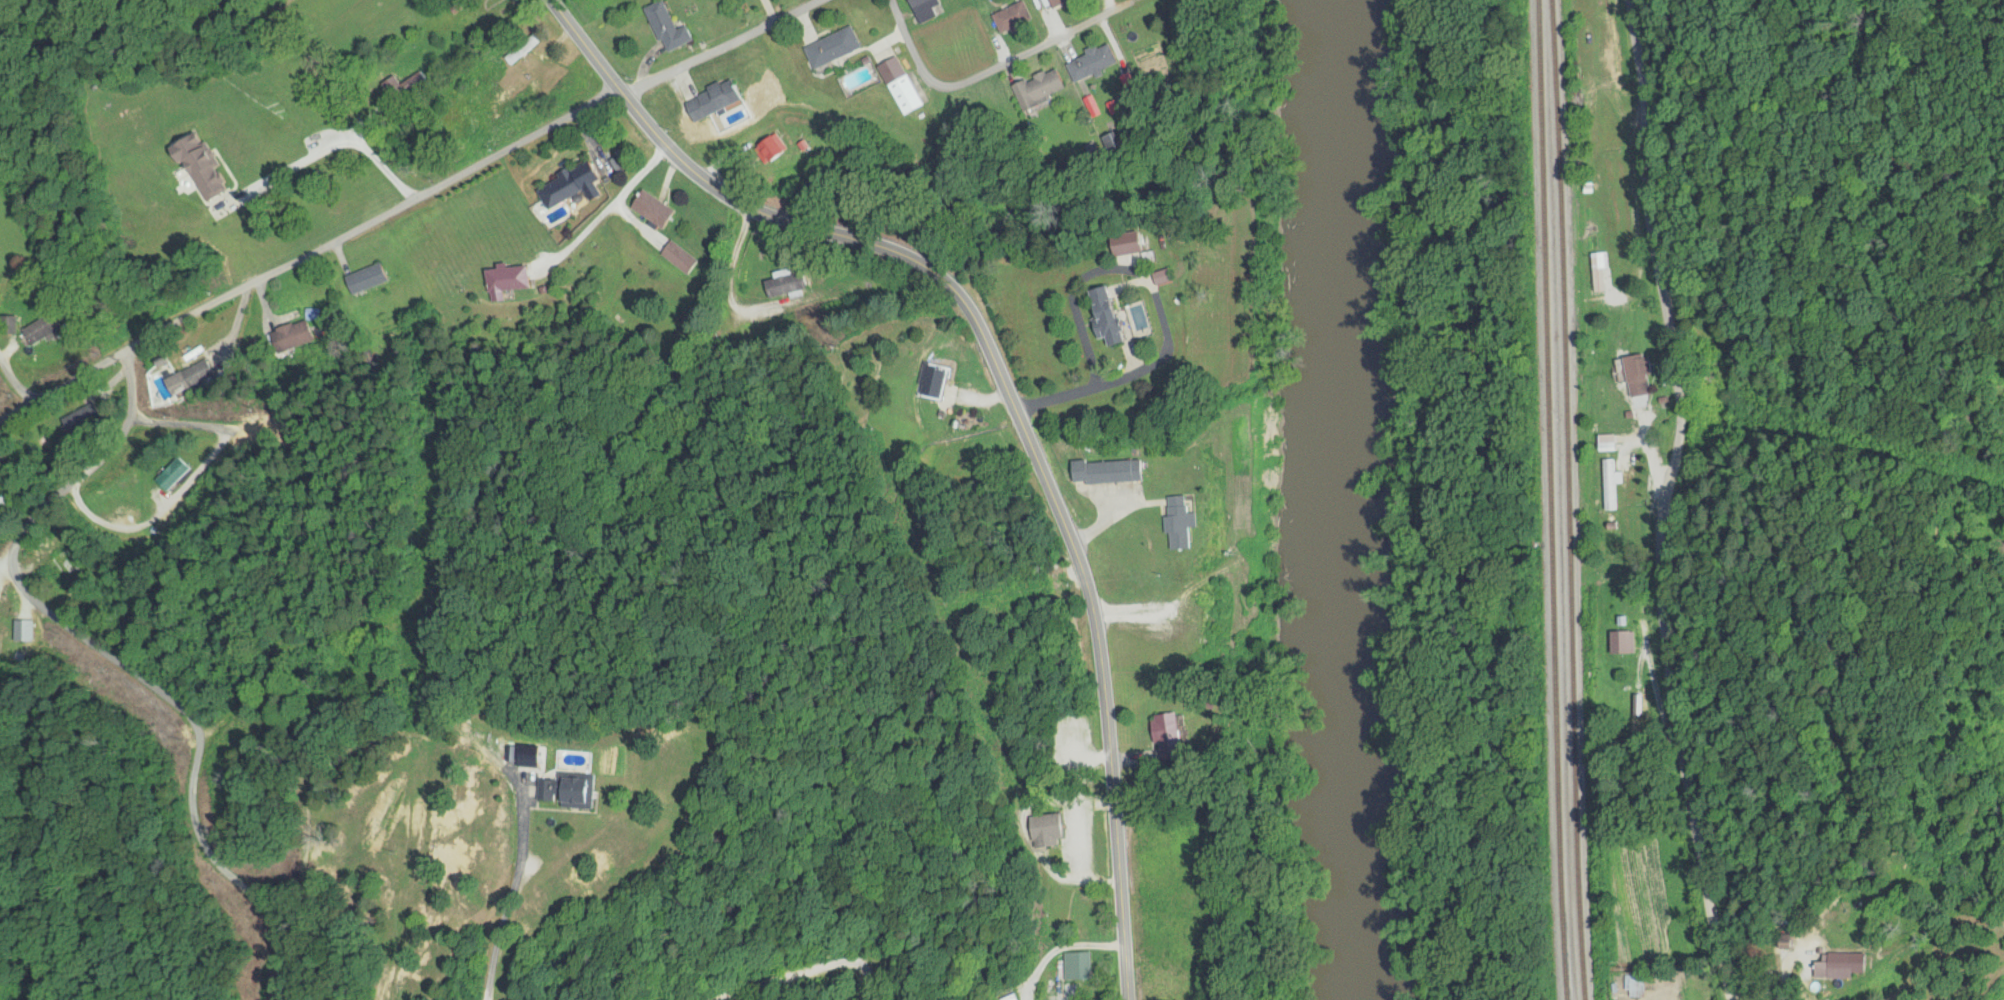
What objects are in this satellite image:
building: (1064, 3)
building: (929, 9)
building: (1016, 18)
building: (672, 28)
road: (720, 45)
building: (837, 48)
building: (1095, 62)
road: (996, 69)
building: (412, 82)
building: (904, 85)
building: (558, 86)
building: (1042, 89)
building: (396, 95)
building: (718, 100)
building: (775, 149)
building: (206, 166)
building: (575, 185)
building: (658, 210)
road: (310, 257)
building: (680, 257)
building: (1600, 272)
building: (367, 279)
building: (507, 281)
building: (787, 285)
building: (1119, 319)
building: (45, 331)
road: (661, 371)
building: (1640, 375)
building: (185, 381)
road: (13, 385)
road: (1007, 391)
building: (82, 419)
building: (1609, 484)
building: (9, 496)
river: (1360, 499)
railway: (1568, 499)
railway: (1555, 500)
road: (1799, 500)
building: (1185, 524)
road: (22, 620)
road: (40, 635)
building: (1624, 643)
road: (120, 662)
building: (1634, 708)
building: (1172, 735)
building: (549, 789)
building: (584, 792)
building: (1847, 964)
building: (1080, 965)
building: (1635, 986)

